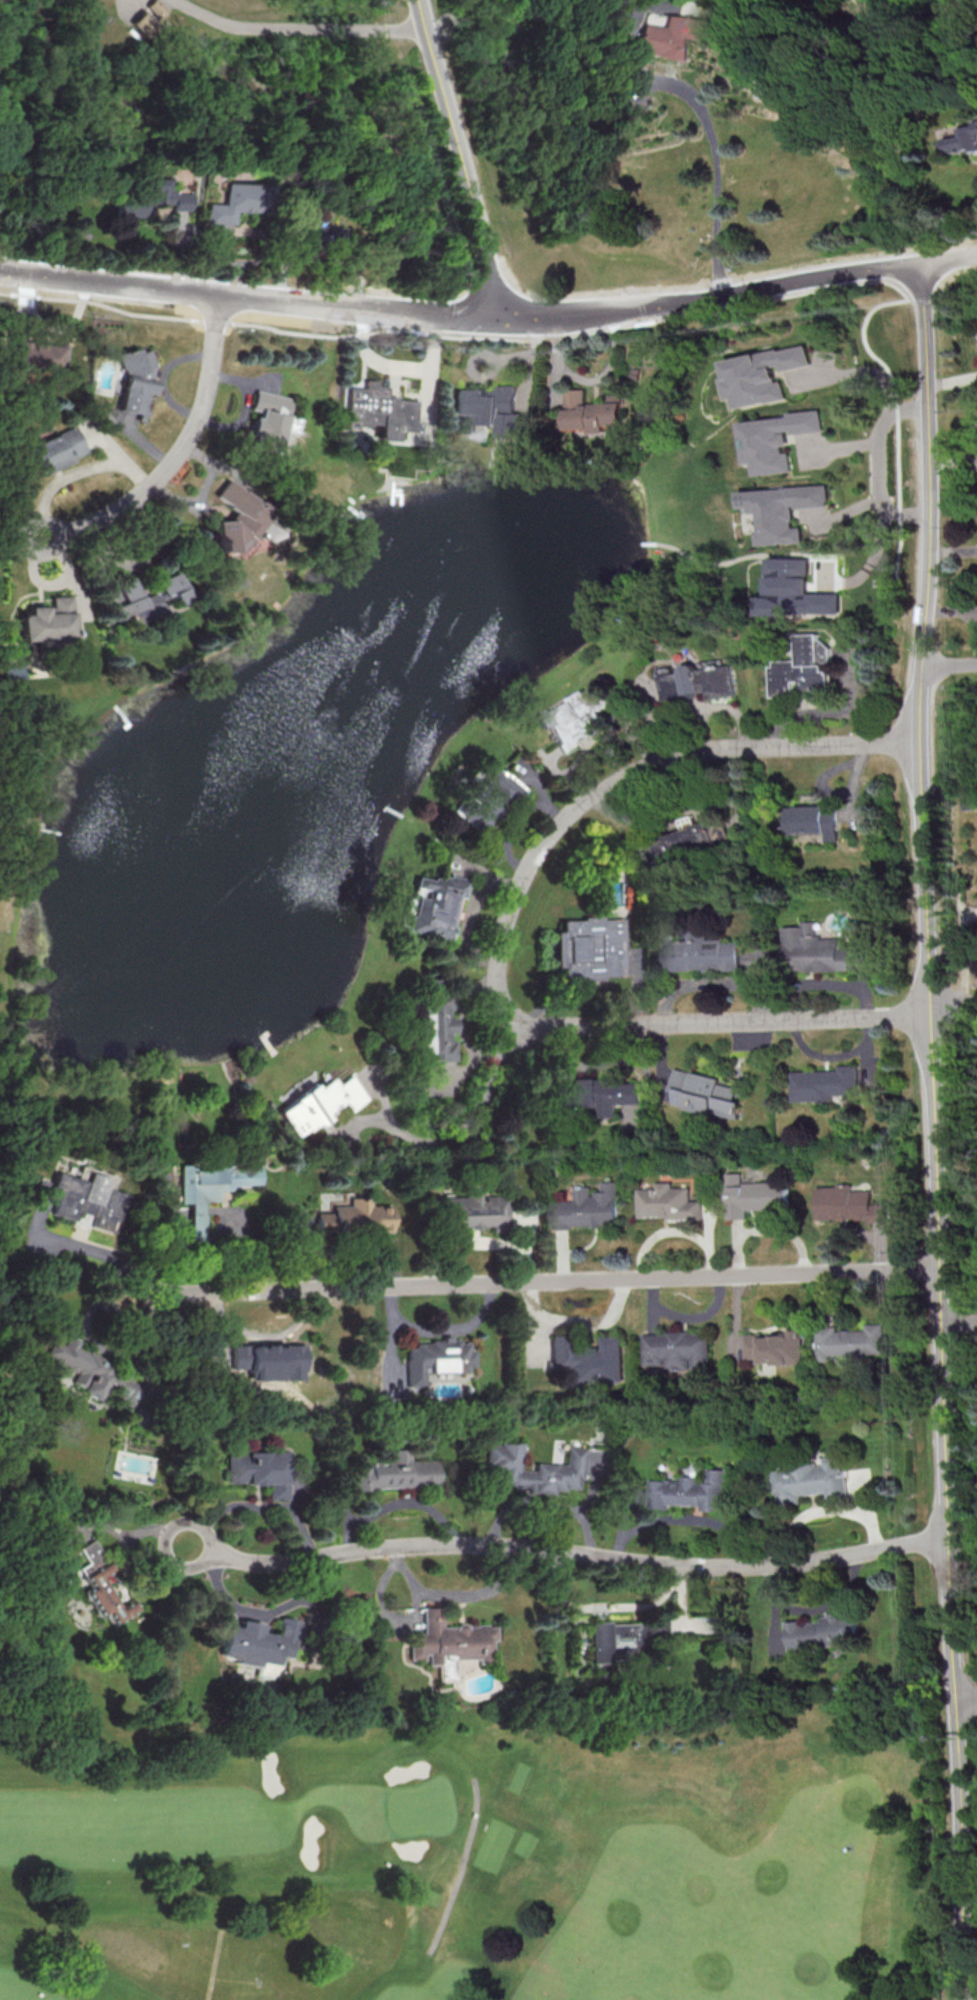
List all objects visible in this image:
river: (900, 13)
building: (149, 17)
road: (295, 28)
building: (668, 34)
river: (503, 50)
river: (433, 102)
road: (698, 104)
river: (138, 110)
building: (976, 119)
building: (963, 137)
road: (454, 160)
building: (64, 190)
building: (147, 199)
building: (238, 201)
building: (316, 235)
road: (946, 258)
road: (770, 285)
road: (270, 299)
road: (584, 315)
traffic signals: (501, 319)
road: (460, 347)
building: (39, 356)
road: (860, 371)
building: (766, 375)
building: (135, 379)
building: (376, 410)
building: (490, 411)
building: (594, 411)
building: (268, 419)
building: (779, 439)
building: (57, 449)
road: (179, 450)
road: (883, 463)
building: (782, 510)
building: (235, 519)
building: (795, 590)
building: (151, 598)
building: (51, 621)
building: (804, 667)
road: (949, 667)
building: (698, 680)
building: (574, 719)
building: (487, 801)
building: (971, 805)
building: (812, 820)
building: (686, 842)
building: (437, 905)
road: (507, 936)
building: (591, 947)
building: (814, 950)
building: (700, 953)
road: (926, 981)
road: (952, 1002)
building: (438, 1029)
building: (824, 1083)
building: (704, 1093)
building: (320, 1103)
road: (466, 1134)
building: (211, 1186)
building: (751, 1196)
building: (86, 1197)
building: (668, 1202)
building: (848, 1204)
building: (586, 1208)
building: (473, 1212)
building: (355, 1218)
road: (78, 1246)
road: (535, 1280)
road: (958, 1321)
road: (440, 1331)
building: (848, 1340)
building: (773, 1347)
building: (676, 1350)
building: (436, 1359)
building: (588, 1359)
building: (269, 1361)
building: (82, 1367)
building: (595, 1463)
building: (558, 1467)
building: (258, 1470)
building: (394, 1472)
building: (811, 1481)
building: (690, 1491)
road: (545, 1505)
road: (254, 1508)
road: (563, 1550)
building: (102, 1584)
road: (267, 1612)
building: (823, 1631)
building: (623, 1639)
building: (258, 1642)
building: (449, 1642)
road: (965, 1700)
road: (958, 1849)
park: (482, 1853)
road: (461, 1869)
road: (212, 1966)

